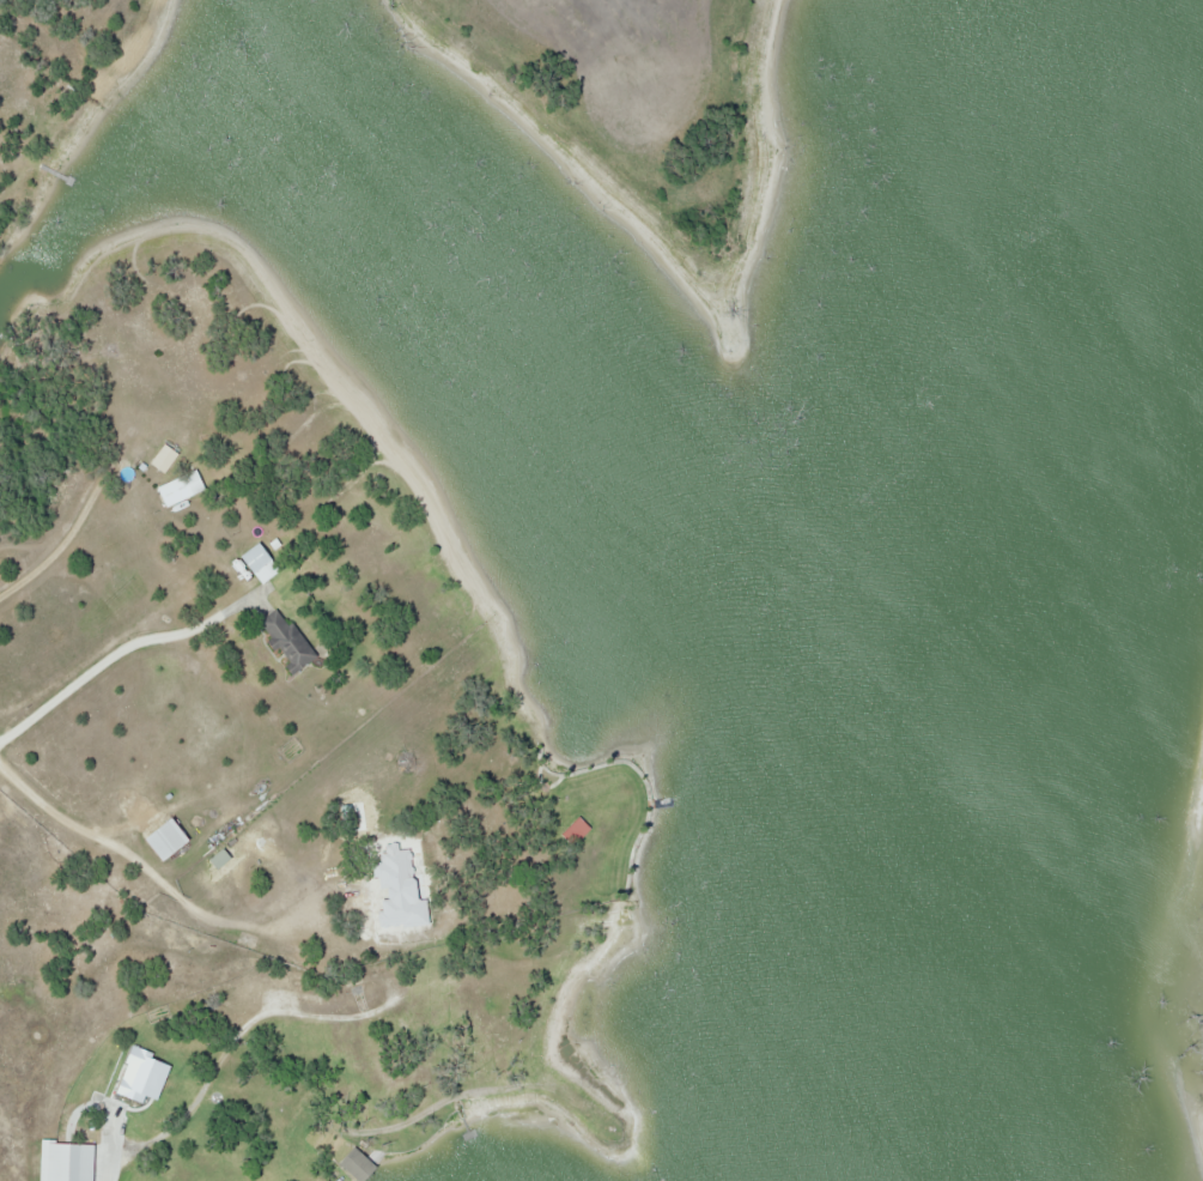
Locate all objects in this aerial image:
building: (162, 456)
building: (177, 487)
road: (59, 544)
building: (254, 564)
building: (282, 641)
road: (124, 642)
river: (1094, 680)
road: (34, 792)
building: (572, 831)
building: (160, 838)
building: (387, 855)
building: (348, 982)
building: (60, 1161)
building: (351, 1164)

